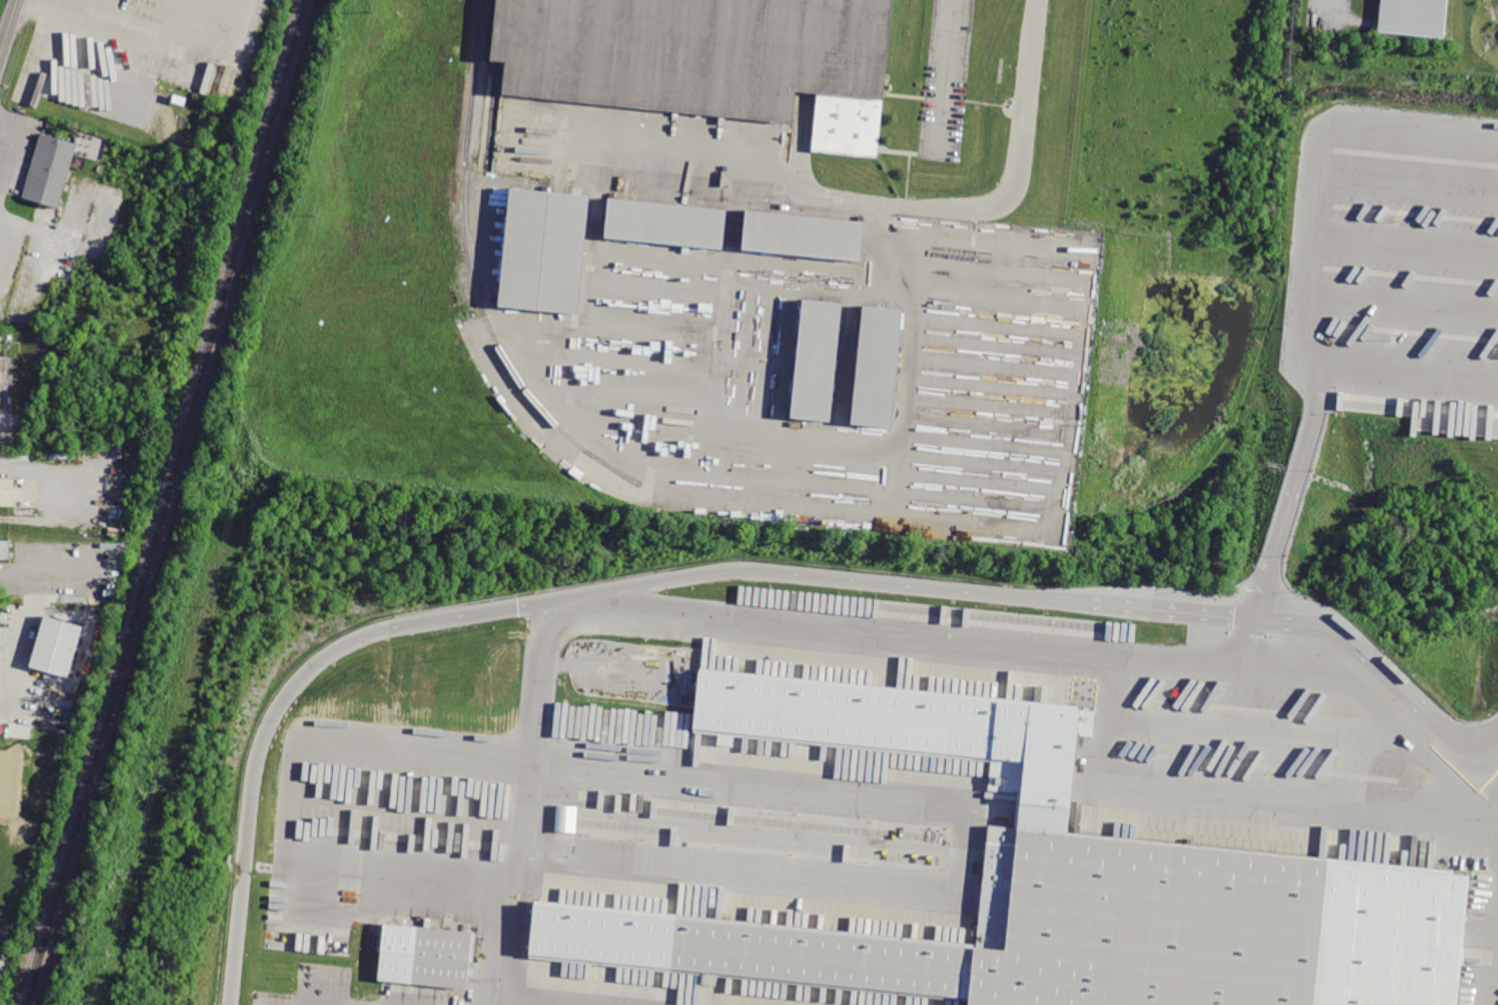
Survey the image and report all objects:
road: (1331, 8)
building: (1417, 18)
road: (8, 25)
road: (130, 32)
building: (706, 61)
road: (943, 75)
railway: (495, 84)
road: (11, 145)
building: (51, 173)
road: (1406, 180)
road: (882, 203)
building: (665, 224)
road: (48, 230)
building: (803, 239)
road: (1403, 241)
building: (543, 251)
road: (1307, 251)
railway: (472, 276)
road: (1401, 304)
building: (814, 364)
building: (876, 370)
road: (1300, 460)
building: (8, 491)
railway: (166, 502)
building: (8, 549)
road: (1261, 588)
road: (1141, 608)
road: (488, 611)
road: (22, 628)
road: (1248, 642)
building: (55, 645)
road: (1056, 646)
road: (1368, 656)
road: (1250, 731)
road: (1480, 741)
road: (719, 780)
road: (1226, 797)
road: (1493, 800)
road: (529, 803)
road: (1493, 810)
building: (566, 818)
building: (1054, 885)
building: (424, 955)
road: (1486, 968)

